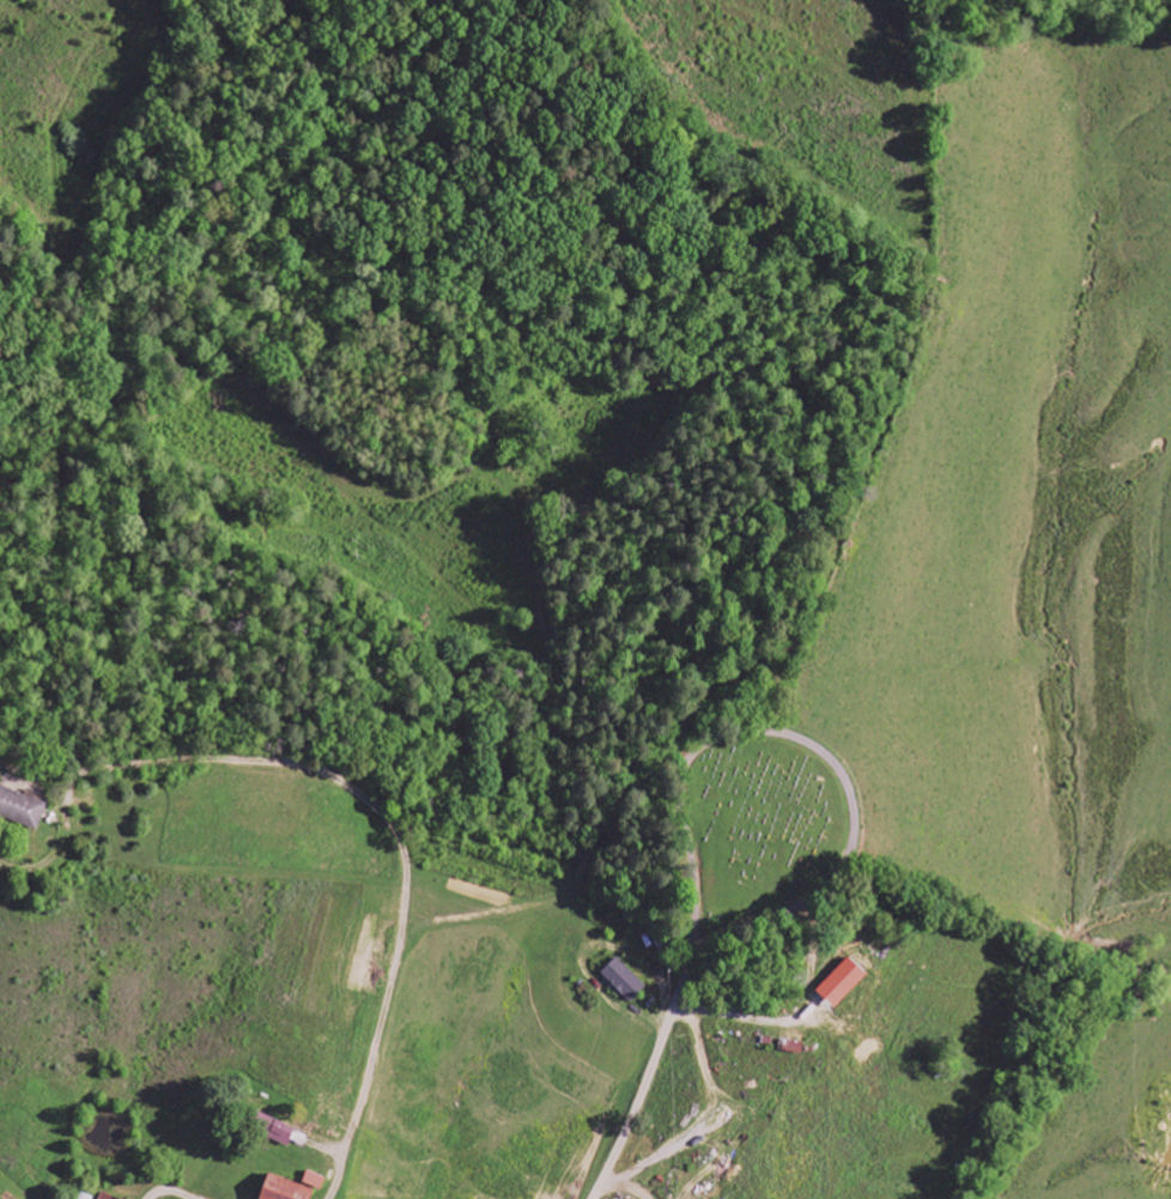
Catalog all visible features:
road: (839, 775)
building: (22, 809)
building: (625, 981)
building: (843, 983)
road: (648, 1076)
building: (277, 1130)
building: (315, 1180)
building: (286, 1189)
building: (84, 1197)
building: (108, 1197)

